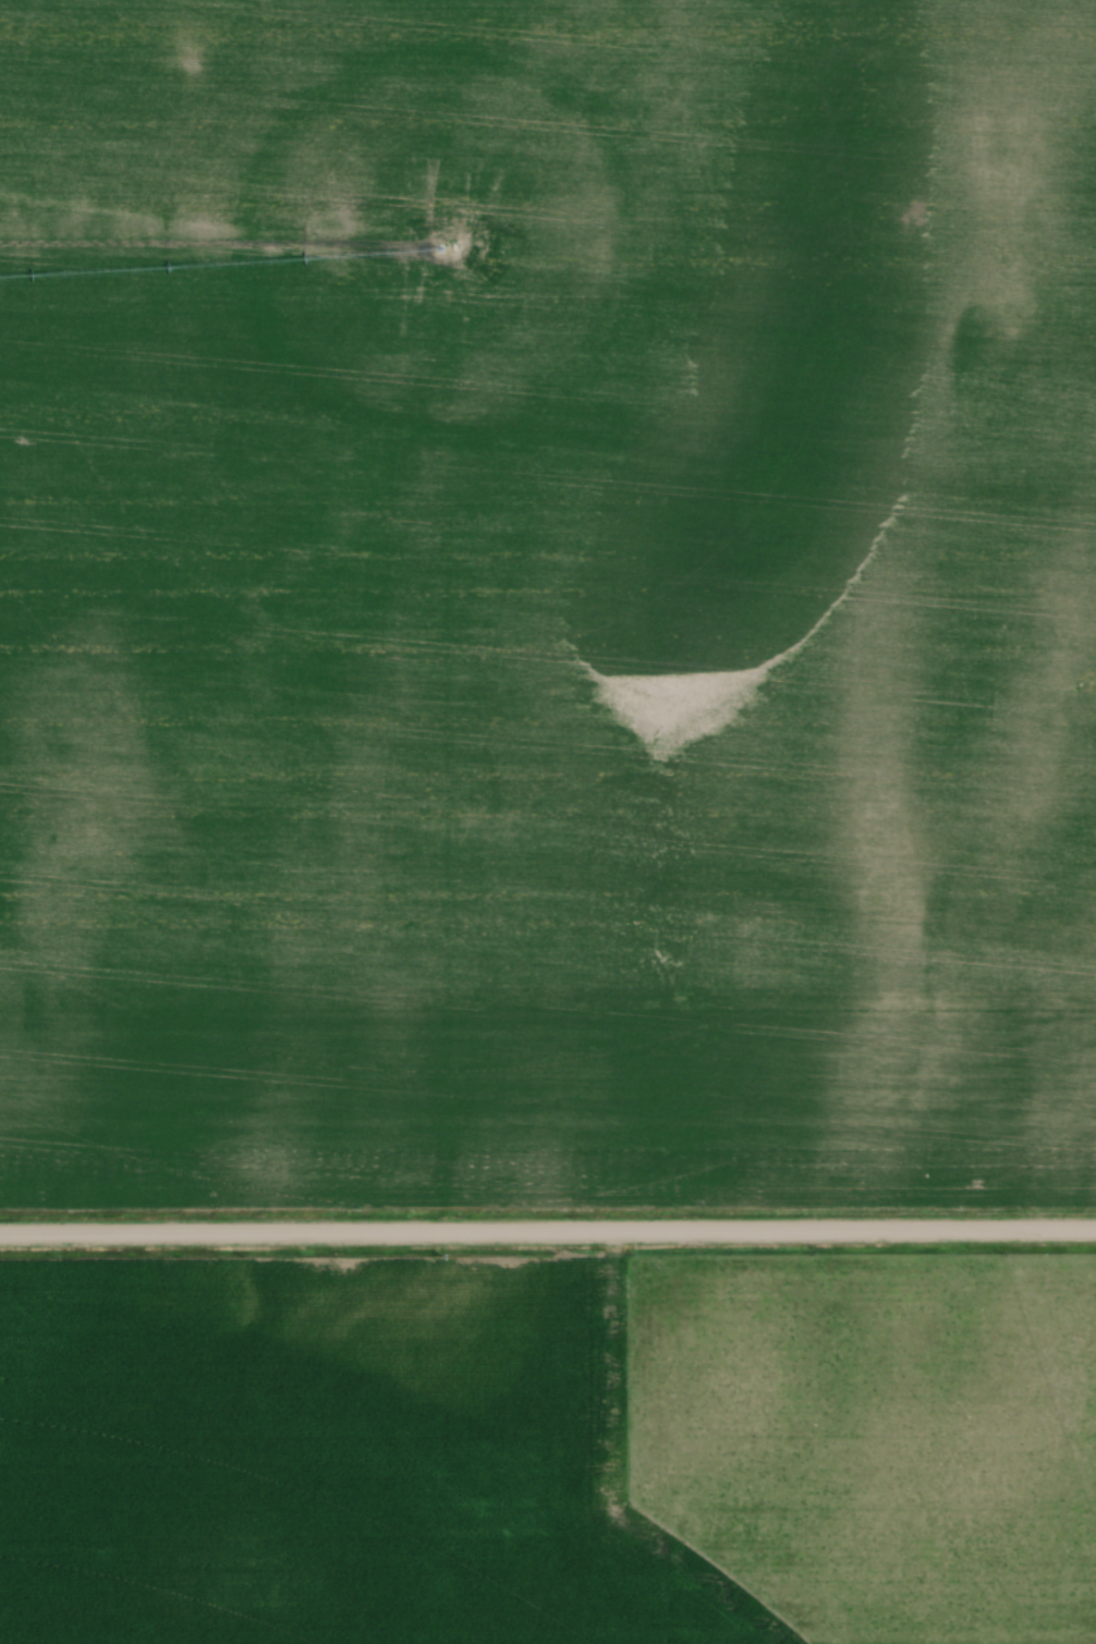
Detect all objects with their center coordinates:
road: (548, 1235)

